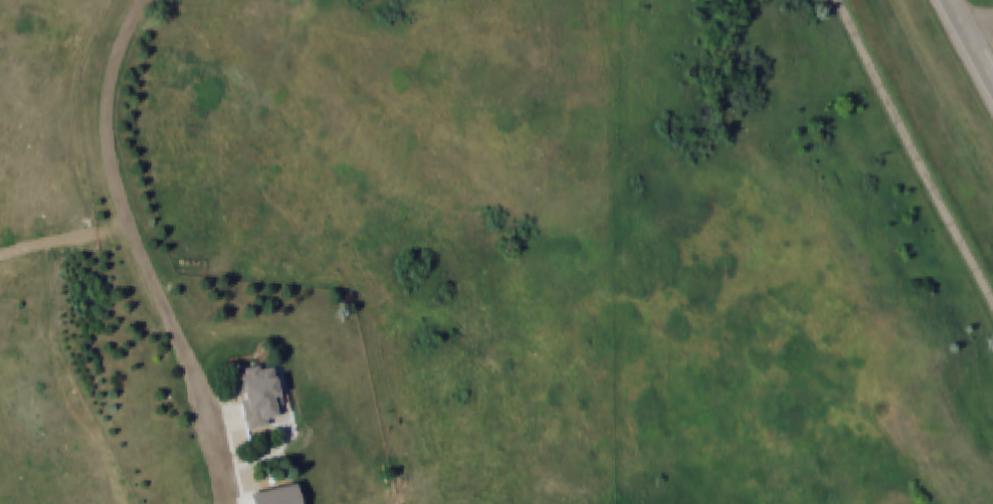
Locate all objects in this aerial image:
road: (977, 25)
road: (969, 44)
road: (917, 147)
road: (126, 219)
building: (258, 396)
building: (276, 496)

